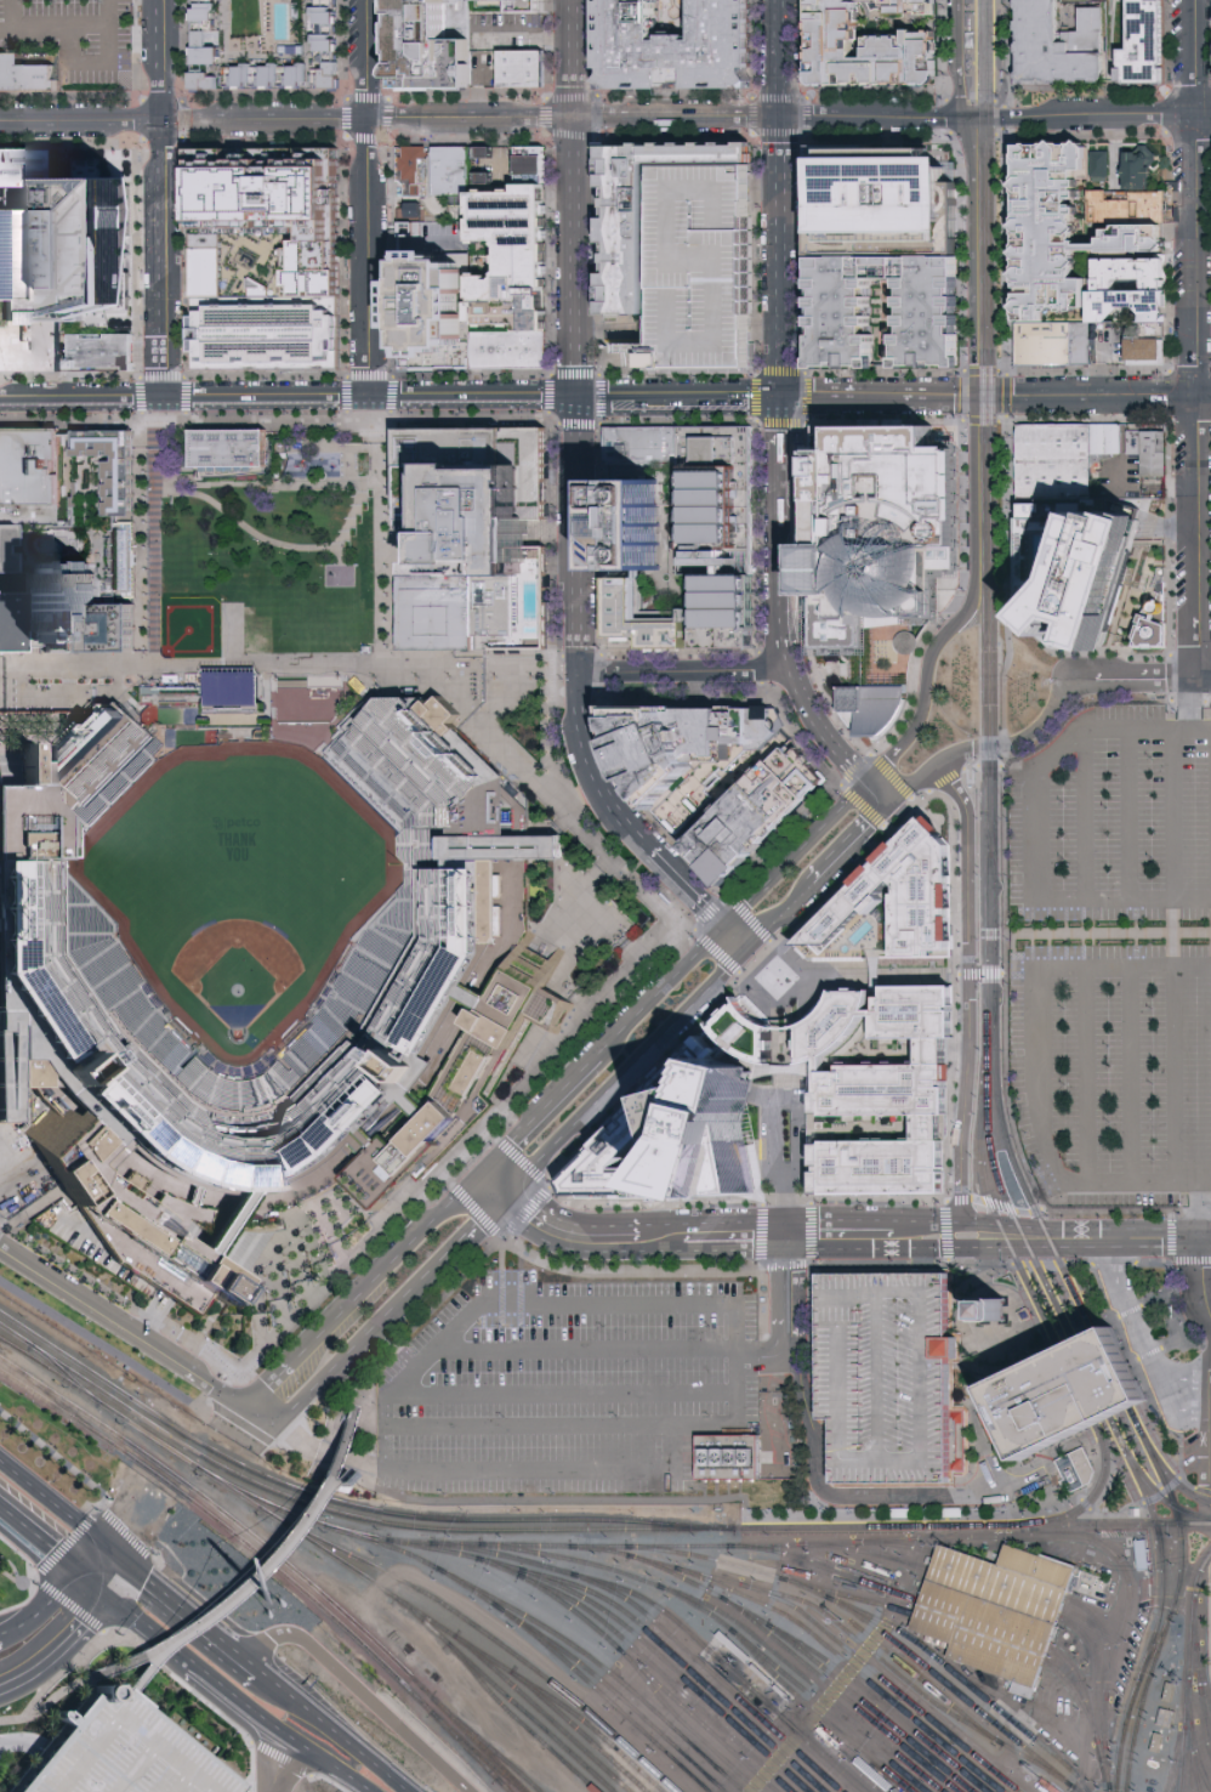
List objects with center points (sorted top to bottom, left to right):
building: (507, 7)
building: (917, 7)
road: (10, 13)
road: (107, 13)
road: (97, 28)
building: (209, 28)
building: (1093, 33)
parking lot: (76, 39)
building: (501, 42)
building: (1145, 45)
building: (427, 46)
railway: (993, 46)
building: (676, 47)
railway: (976, 49)
building: (904, 50)
road: (972, 50)
building: (1053, 51)
road: (75, 57)
road: (955, 58)
building: (523, 68)
building: (28, 78)
road: (985, 100)
road: (987, 117)
road: (1111, 117)
traffic signals: (963, 118)
road: (482, 121)
road: (950, 125)
road: (1119, 157)
building: (539, 158)
building: (1103, 166)
building: (30, 168)
building: (1143, 168)
building: (544, 178)
building: (456, 181)
road: (1005, 186)
road: (576, 187)
building: (882, 193)
building: (267, 194)
road: (1147, 197)
road: (783, 199)
road: (368, 200)
road: (164, 202)
building: (1136, 210)
building: (641, 216)
building: (1063, 229)
road: (1173, 250)
building: (24, 255)
building: (92, 256)
road: (972, 256)
building: (512, 260)
parking lot: (699, 262)
building: (206, 265)
building: (699, 267)
parking lot: (699, 267)
building: (313, 271)
building: (1132, 274)
building: (1128, 305)
building: (436, 311)
building: (841, 313)
building: (268, 334)
building: (30, 336)
road: (1196, 339)
building: (1148, 344)
building: (1057, 345)
parking lot: (1111, 345)
building: (102, 352)
building: (511, 352)
road: (1104, 363)
road: (1006, 393)
road: (1091, 393)
road: (962, 395)
road: (876, 397)
traffic signals: (973, 397)
traffic signals: (781, 399)
road: (81, 402)
road: (472, 402)
traffic signals: (579, 402)
road: (789, 414)
road: (377, 424)
road: (157, 426)
building: (1108, 441)
road: (781, 442)
road: (1125, 442)
building: (641, 444)
building: (228, 448)
road: (1173, 448)
building: (1153, 452)
road: (798, 455)
building: (1058, 463)
building: (32, 477)
road: (265, 484)
road: (973, 487)
building: (720, 509)
road: (354, 518)
building: (120, 521)
building: (484, 524)
building: (630, 524)
road: (244, 528)
building: (881, 532)
railway: (983, 538)
road: (137, 543)
road: (391, 545)
building: (5, 549)
road: (780, 549)
road: (379, 557)
road: (155, 558)
road: (341, 558)
park: (273, 562)
parking lot: (829, 571)
building: (1102, 571)
road: (1007, 573)
building: (720, 597)
building: (56, 601)
road: (951, 606)
building: (437, 612)
building: (638, 618)
road: (580, 623)
park: (191, 630)
building: (723, 631)
road: (785, 642)
building: (904, 643)
road: (581, 657)
road: (553, 664)
building: (1085, 665)
road: (1, 669)
road: (244, 669)
road: (516, 673)
road: (855, 673)
road: (686, 674)
road: (1205, 677)
railway: (993, 679)
road: (1161, 680)
road: (929, 685)
road: (553, 690)
road: (1097, 696)
road: (1198, 703)
building: (872, 708)
road: (1203, 728)
road: (545, 732)
road: (821, 732)
road: (607, 744)
road: (1004, 744)
road: (1006, 744)
building: (686, 753)
road: (1004, 760)
road: (991, 764)
road: (972, 766)
road: (853, 767)
road: (891, 773)
road: (945, 778)
traffic signals: (868, 782)
road: (733, 787)
road: (942, 793)
road: (879, 794)
road: (925, 796)
road: (553, 799)
road: (917, 800)
road: (862, 804)
traffic signals: (891, 807)
road: (1128, 813)
road: (1176, 813)
building: (752, 816)
road: (1082, 816)
road: (889, 828)
road: (1036, 833)
road: (851, 845)
railway: (988, 850)
road: (795, 852)
road: (851, 874)
road: (954, 885)
park: (238, 886)
road: (688, 888)
building: (892, 903)
road: (709, 909)
road: (749, 915)
road: (780, 915)
traffic signals: (724, 925)
road: (1108, 931)
road: (737, 937)
road: (777, 941)
road: (715, 949)
traffic signals: (749, 949)
stadium: (261, 952)
parking lot: (1114, 954)
road: (762, 962)
road: (962, 969)
building: (772, 971)
road: (880, 971)
road: (875, 974)
road: (741, 975)
road: (660, 992)
road: (796, 992)
road: (968, 994)
building: (436, 996)
road: (4, 1000)
road: (779, 1022)
railway: (990, 1025)
road: (1037, 1047)
road: (630, 1073)
road: (1130, 1073)
road: (1175, 1073)
road: (1005, 1074)
road: (1086, 1074)
road: (780, 1077)
road: (648, 1081)
road: (950, 1084)
building: (876, 1089)
road: (802, 1104)
building: (670, 1107)
road: (541, 1116)
road: (490, 1132)
building: (715, 1136)
road: (467, 1144)
road: (525, 1161)
traffic signals: (484, 1172)
road: (443, 1174)
road: (1189, 1181)
road: (1206, 1181)
road: (498, 1185)
road: (853, 1196)
road: (957, 1197)
road: (977, 1197)
traffic signals: (512, 1198)
road: (655, 1198)
road: (999, 1204)
road: (477, 1208)
road: (1203, 1208)
road: (1028, 1209)
road: (529, 1210)
railway: (1013, 1217)
railway: (997, 1220)
road: (485, 1223)
road: (553, 1224)
road: (807, 1229)
road: (945, 1231)
road: (762, 1232)
road: (781, 1234)
road: (1034, 1235)
road: (1155, 1235)
traffic signals: (1204, 1235)
road: (1207, 1235)
road: (788, 1252)
road: (1189, 1259)
road: (1113, 1260)
road: (1030, 1261)
road: (889, 1264)
road: (784, 1265)
road: (68, 1266)
road: (386, 1268)
road: (627, 1269)
railway: (1010, 1274)
road: (1203, 1275)
road: (971, 1278)
road: (1121, 1291)
road: (1171, 1291)
road: (1156, 1295)
road: (538, 1299)
building: (1044, 1302)
road: (431, 1309)
road: (1131, 1309)
road: (153, 1310)
building: (993, 1310)
road: (972, 1315)
building: (1023, 1315)
road: (148, 1320)
road: (144, 1322)
road: (123, 1326)
road: (779, 1328)
park: (96, 1334)
road: (1012, 1334)
road: (368, 1336)
road: (95, 1342)
road: (198, 1346)
road: (586, 1346)
road: (1207, 1348)
road: (1007, 1356)
road: (735, 1362)
road: (766, 1368)
railway: (49, 1369)
railway: (63, 1373)
building: (888, 1373)
parking lot: (888, 1373)
railway: (1111, 1373)
road: (1139, 1374)
road: (1206, 1374)
railway: (1071, 1376)
road: (231, 1378)
railway: (1092, 1383)
road: (266, 1384)
road: (1162, 1388)
parking lot: (561, 1391)
road: (217, 1393)
road: (565, 1393)
road: (356, 1395)
building: (1065, 1395)
railway: (56, 1401)
railway: (1087, 1412)
railway: (1120, 1413)
road: (260, 1414)
road: (336, 1414)
railway: (1109, 1414)
road: (561, 1424)
railway: (1135, 1424)
road: (243, 1427)
railway: (1113, 1428)
road: (978, 1431)
road: (385, 1433)
railway: (147, 1435)
road: (300, 1437)
road: (677, 1445)
building: (727, 1456)
road: (1206, 1456)
road: (354, 1458)
road: (322, 1461)
road: (530, 1465)
building: (1075, 1470)
railway: (1176, 1470)
road: (341, 1473)
railway: (1171, 1478)
road: (334, 1479)
road: (341, 1479)
road: (1056, 1480)
road: (1203, 1487)
railway: (1093, 1491)
railway: (1153, 1491)
road: (1161, 1492)
road: (831, 1493)
road: (41, 1497)
road: (508, 1499)
railway: (1130, 1501)
railway: (265, 1502)
railway: (340, 1502)
railway: (340, 1513)
road: (946, 1514)
road: (106, 1515)
railway: (789, 1521)
railway: (1104, 1524)
railway: (994, 1525)
railway: (1018, 1525)
railway: (859, 1526)
railway: (948, 1531)
railway: (360, 1533)
railway: (1087, 1538)
road: (39, 1539)
railway: (893, 1543)
traffic signals: (101, 1546)
railway: (646, 1546)
railway: (325, 1552)
railway: (863, 1552)
railway: (262, 1556)
railway: (277, 1556)
traffic signals: (124, 1565)
road: (46, 1567)
railway: (823, 1567)
traffic signals: (78, 1572)
railway: (769, 1575)
railway: (1000, 1575)
road: (15, 1578)
road: (113, 1580)
road: (8, 1581)
road: (90, 1582)
road: (249, 1582)
traffic signals: (103, 1594)
railway: (993, 1594)
road: (55, 1598)
road: (61, 1599)
road: (23, 1601)
road: (170, 1603)
building: (994, 1610)
railway: (1158, 1614)
railway: (1169, 1614)
road: (1195, 1620)
railway: (720, 1621)
railway: (658, 1624)
railway: (837, 1624)
railway: (983, 1624)
road: (141, 1626)
road: (95, 1628)
railway: (599, 1632)
railway: (488, 1635)
railway: (1189, 1637)
railway: (536, 1638)
railway: (978, 1638)
road: (11, 1641)
railway: (1154, 1643)
road: (57, 1649)
railway: (482, 1654)
railway: (656, 1654)
railway: (818, 1655)
railway: (681, 1663)
railway: (1105, 1663)
railway: (598, 1665)
railway: (847, 1665)
railway: (726, 1666)
railway: (944, 1666)
railway: (1196, 1669)
road: (144, 1673)
railway: (660, 1673)
road: (58, 1675)
railway: (805, 1678)
railway: (1200, 1678)
railway: (885, 1680)
railway: (923, 1683)
road: (277, 1688)
building: (1027, 1688)
railway: (953, 1690)
railway: (613, 1691)
road: (356, 1694)
railway: (502, 1694)
railway: (838, 1694)
road: (231, 1695)
road: (53, 1696)
railway: (1076, 1696)
railway: (1097, 1696)
railway: (868, 1706)
railway: (828, 1709)
railway: (541, 1713)
railway: (1087, 1713)
road: (10, 1719)
railway: (517, 1720)
railway: (682, 1723)
railway: (1201, 1724)
railway: (590, 1726)
railway: (578, 1730)
railway: (1189, 1736)
road: (23, 1742)
railway: (484, 1743)
road: (349, 1746)
building: (120, 1752)
parking lot: (120, 1752)
railway: (476, 1752)
railway: (1177, 1759)
railway: (1181, 1759)
railway: (1195, 1759)
road: (279, 1764)
road: (323, 1764)
railway: (501, 1785)
railway: (502, 1785)

